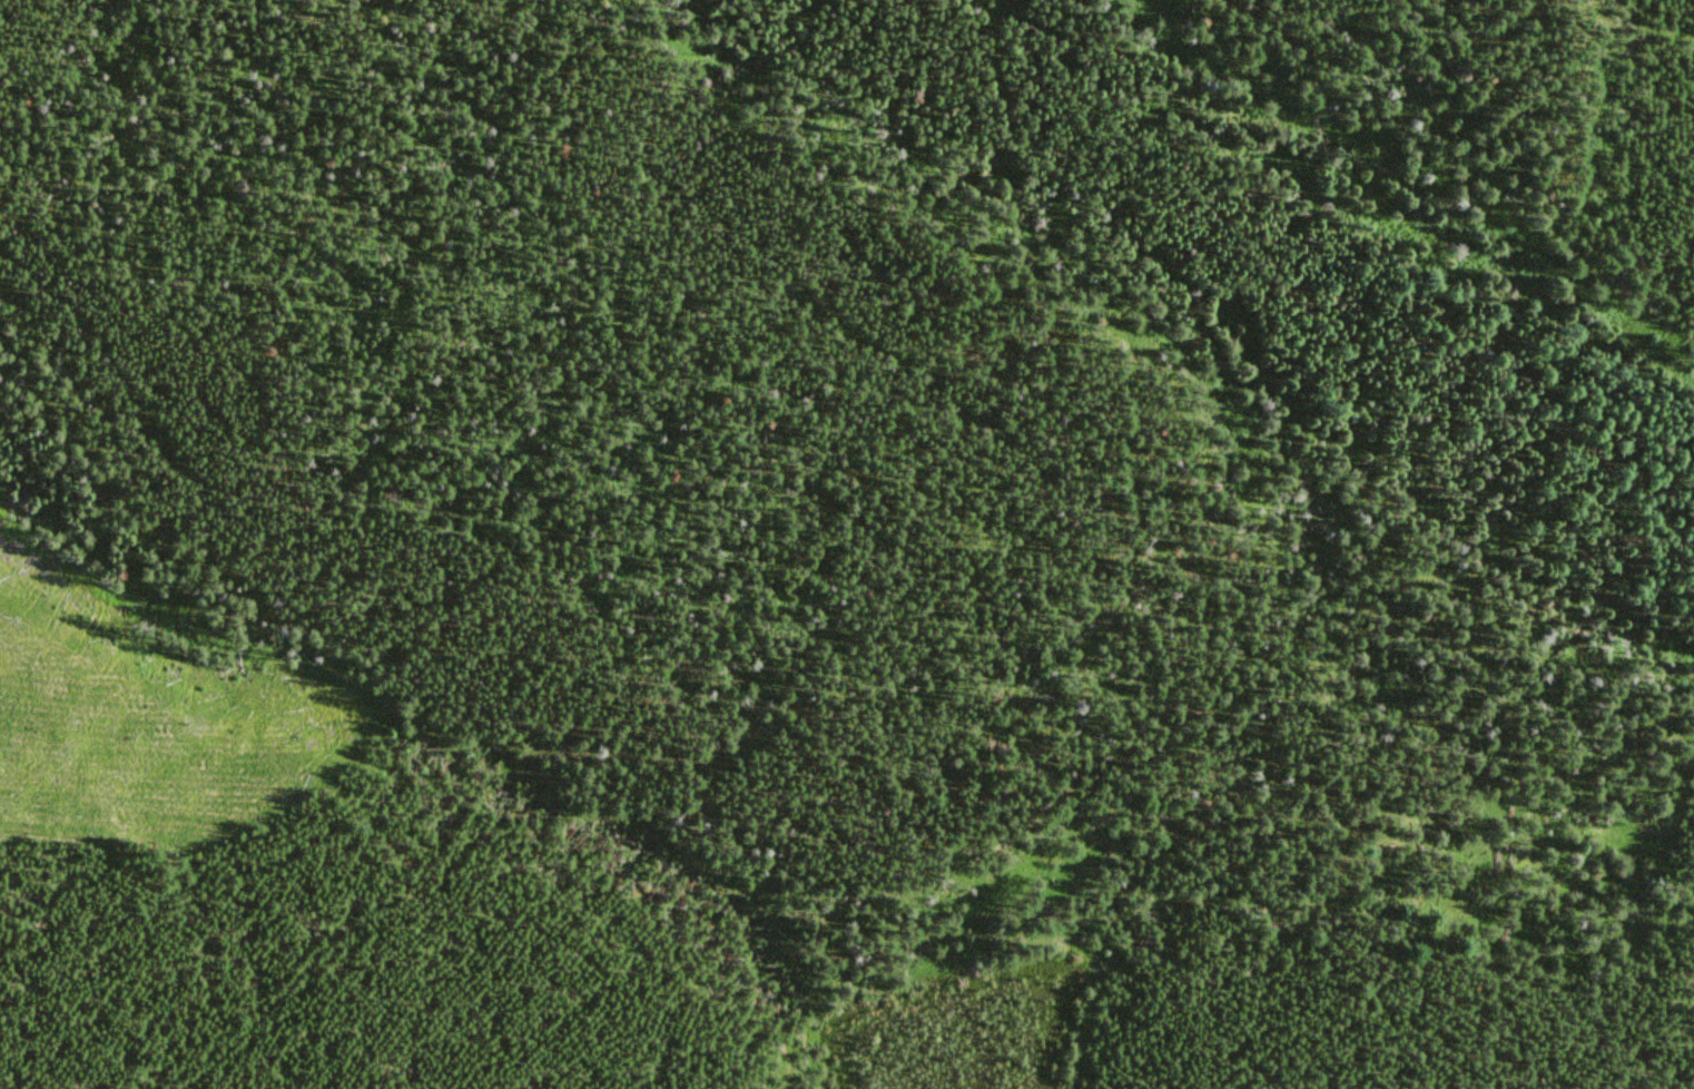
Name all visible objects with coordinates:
road: (215, 1050)

